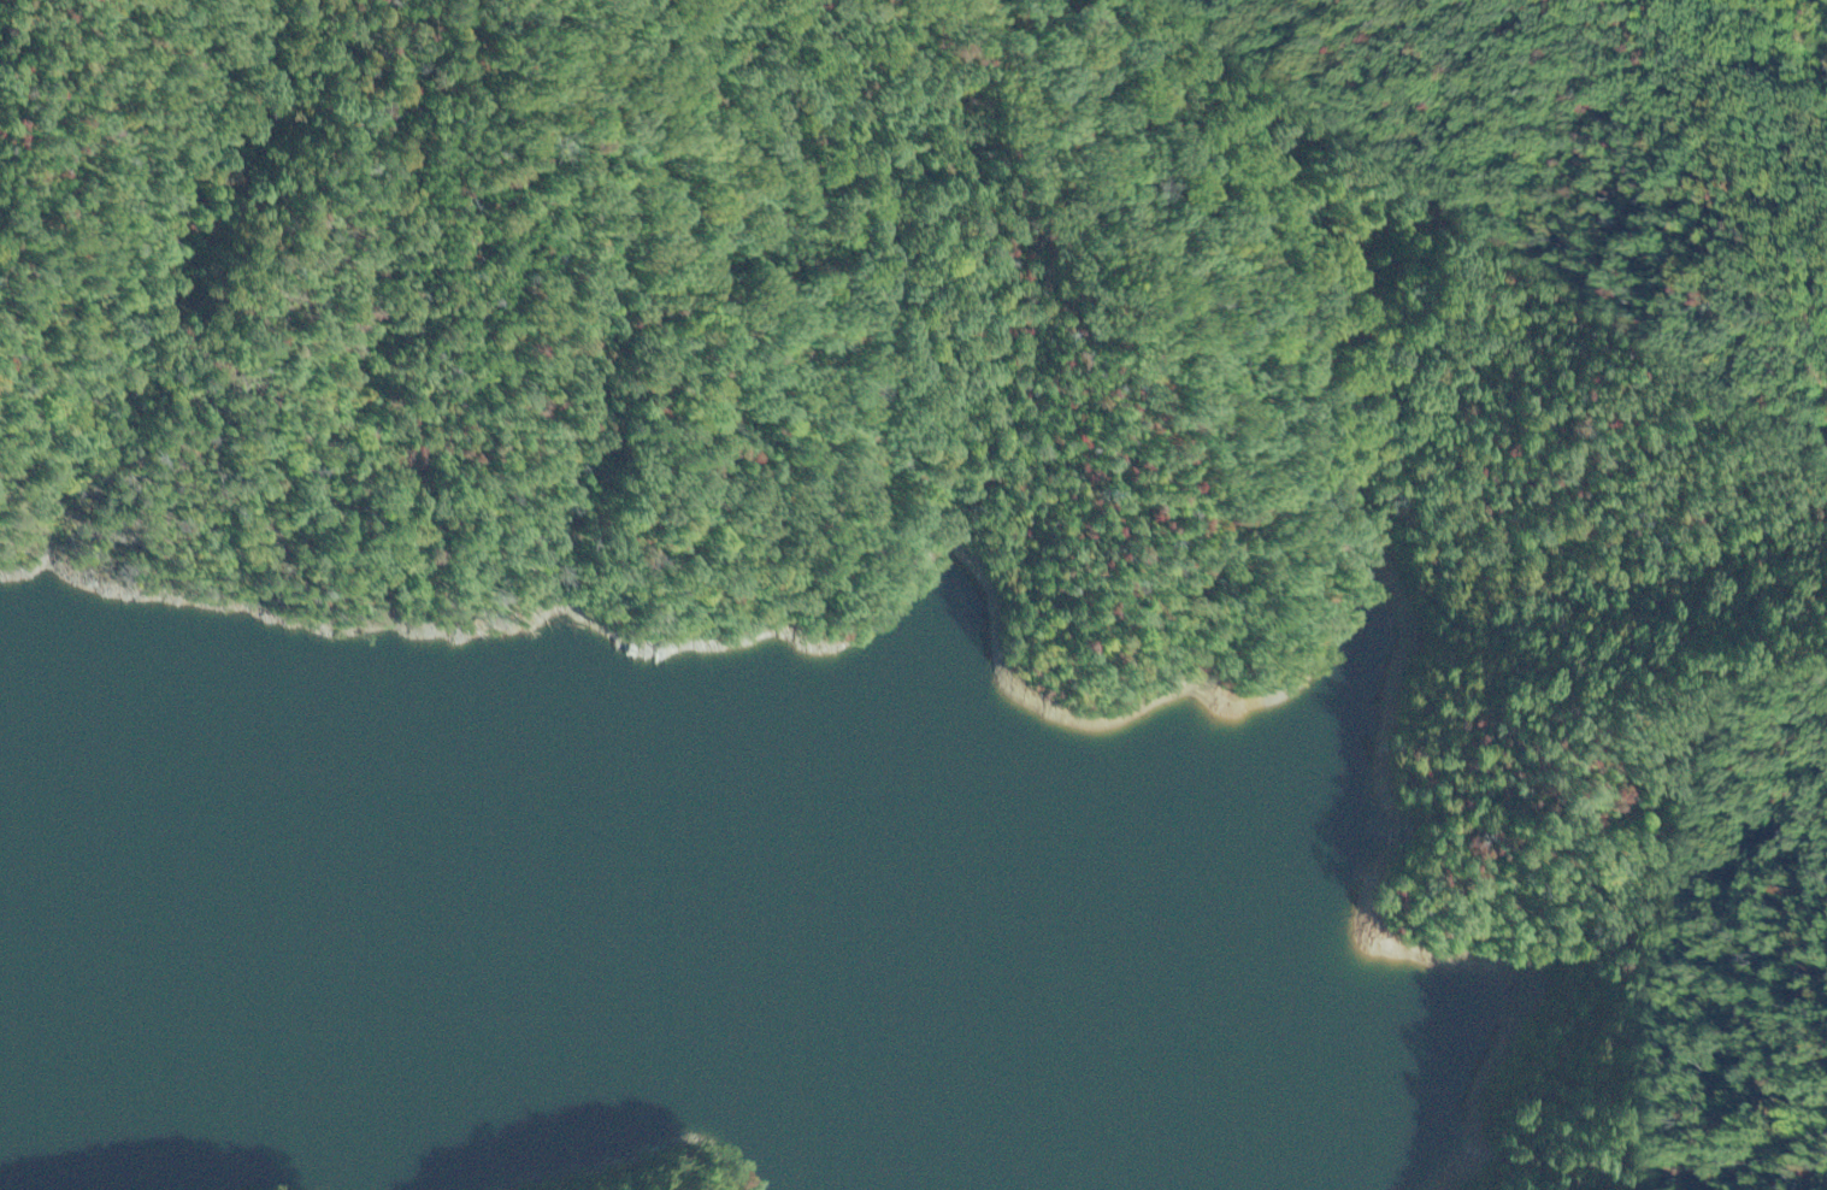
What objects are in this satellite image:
river: (613, 899)

